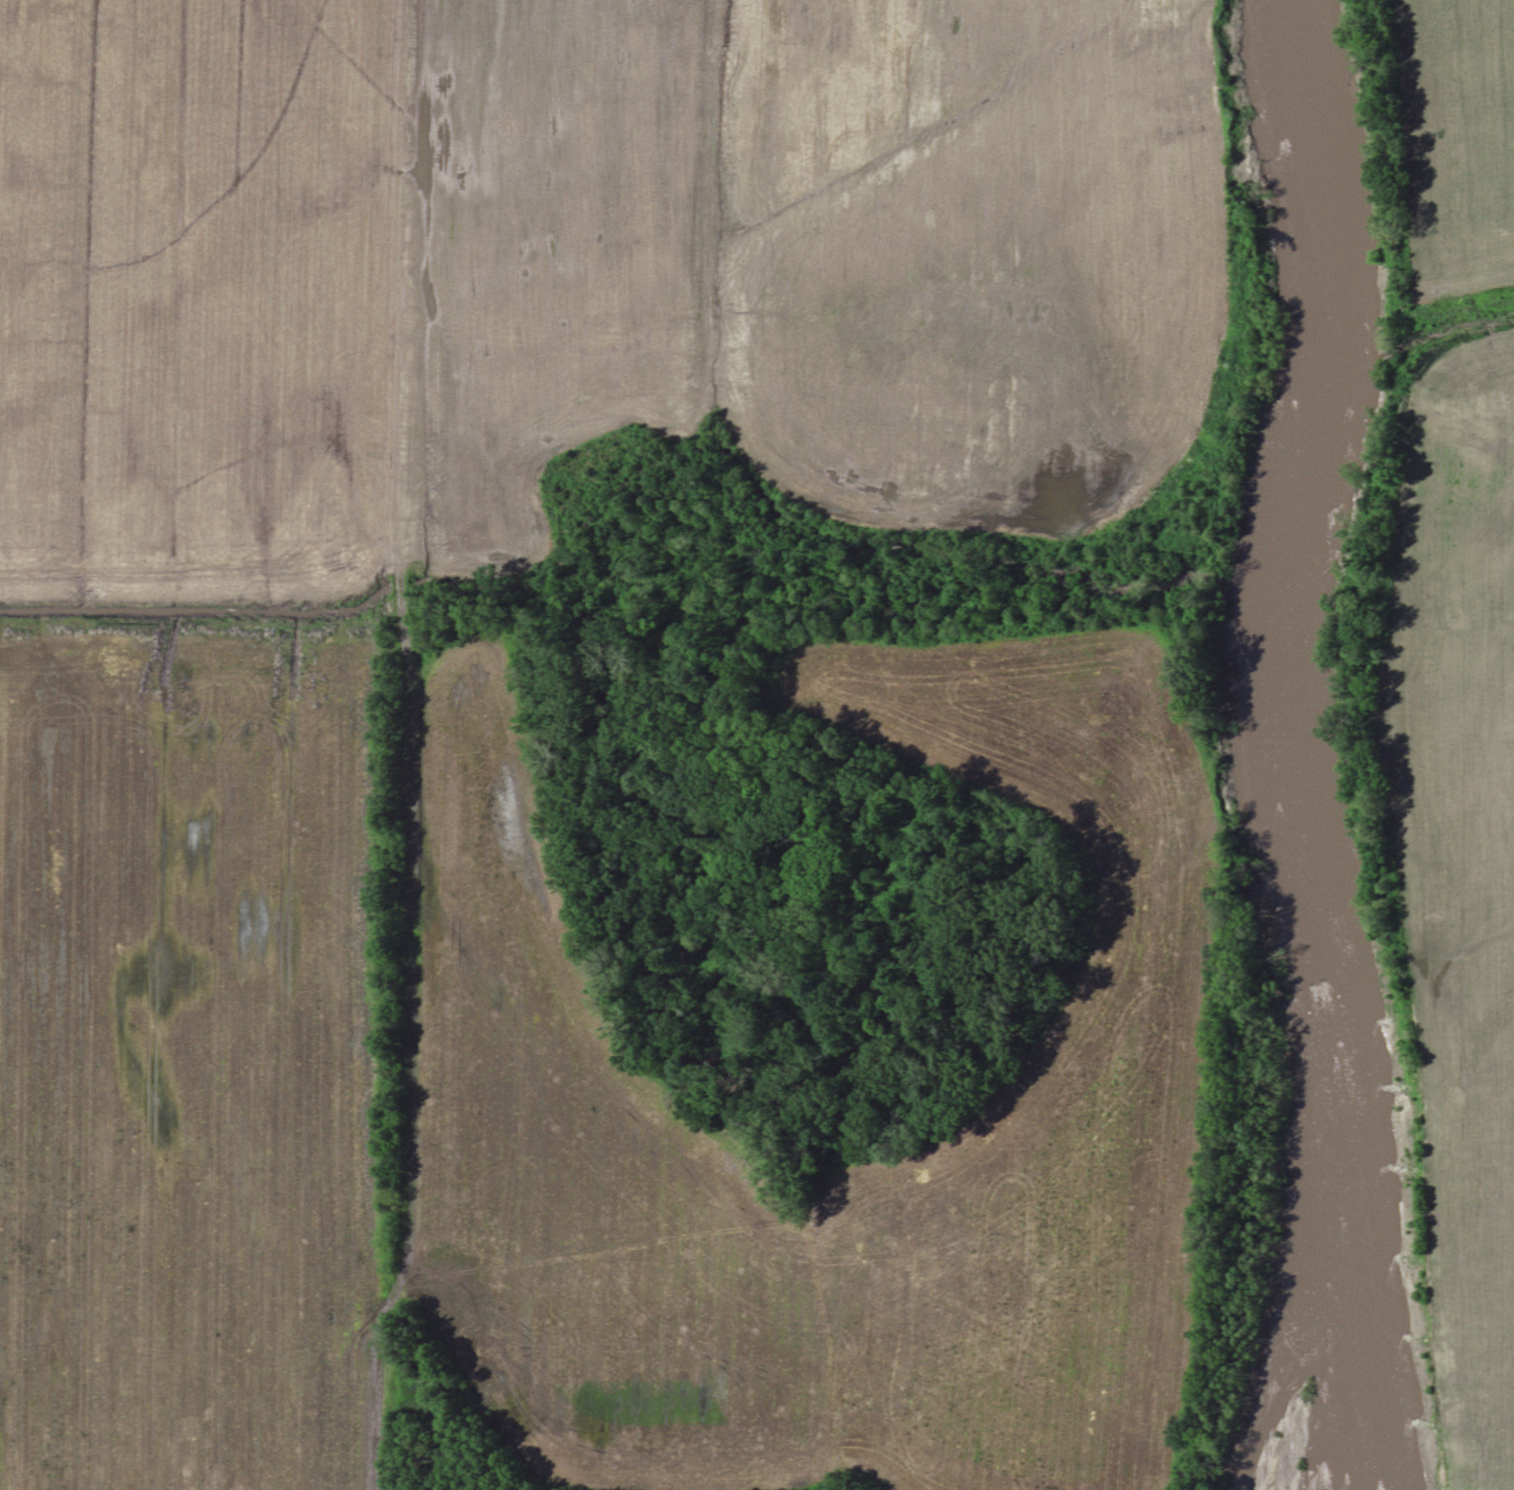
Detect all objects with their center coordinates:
river: (1300, 745)

